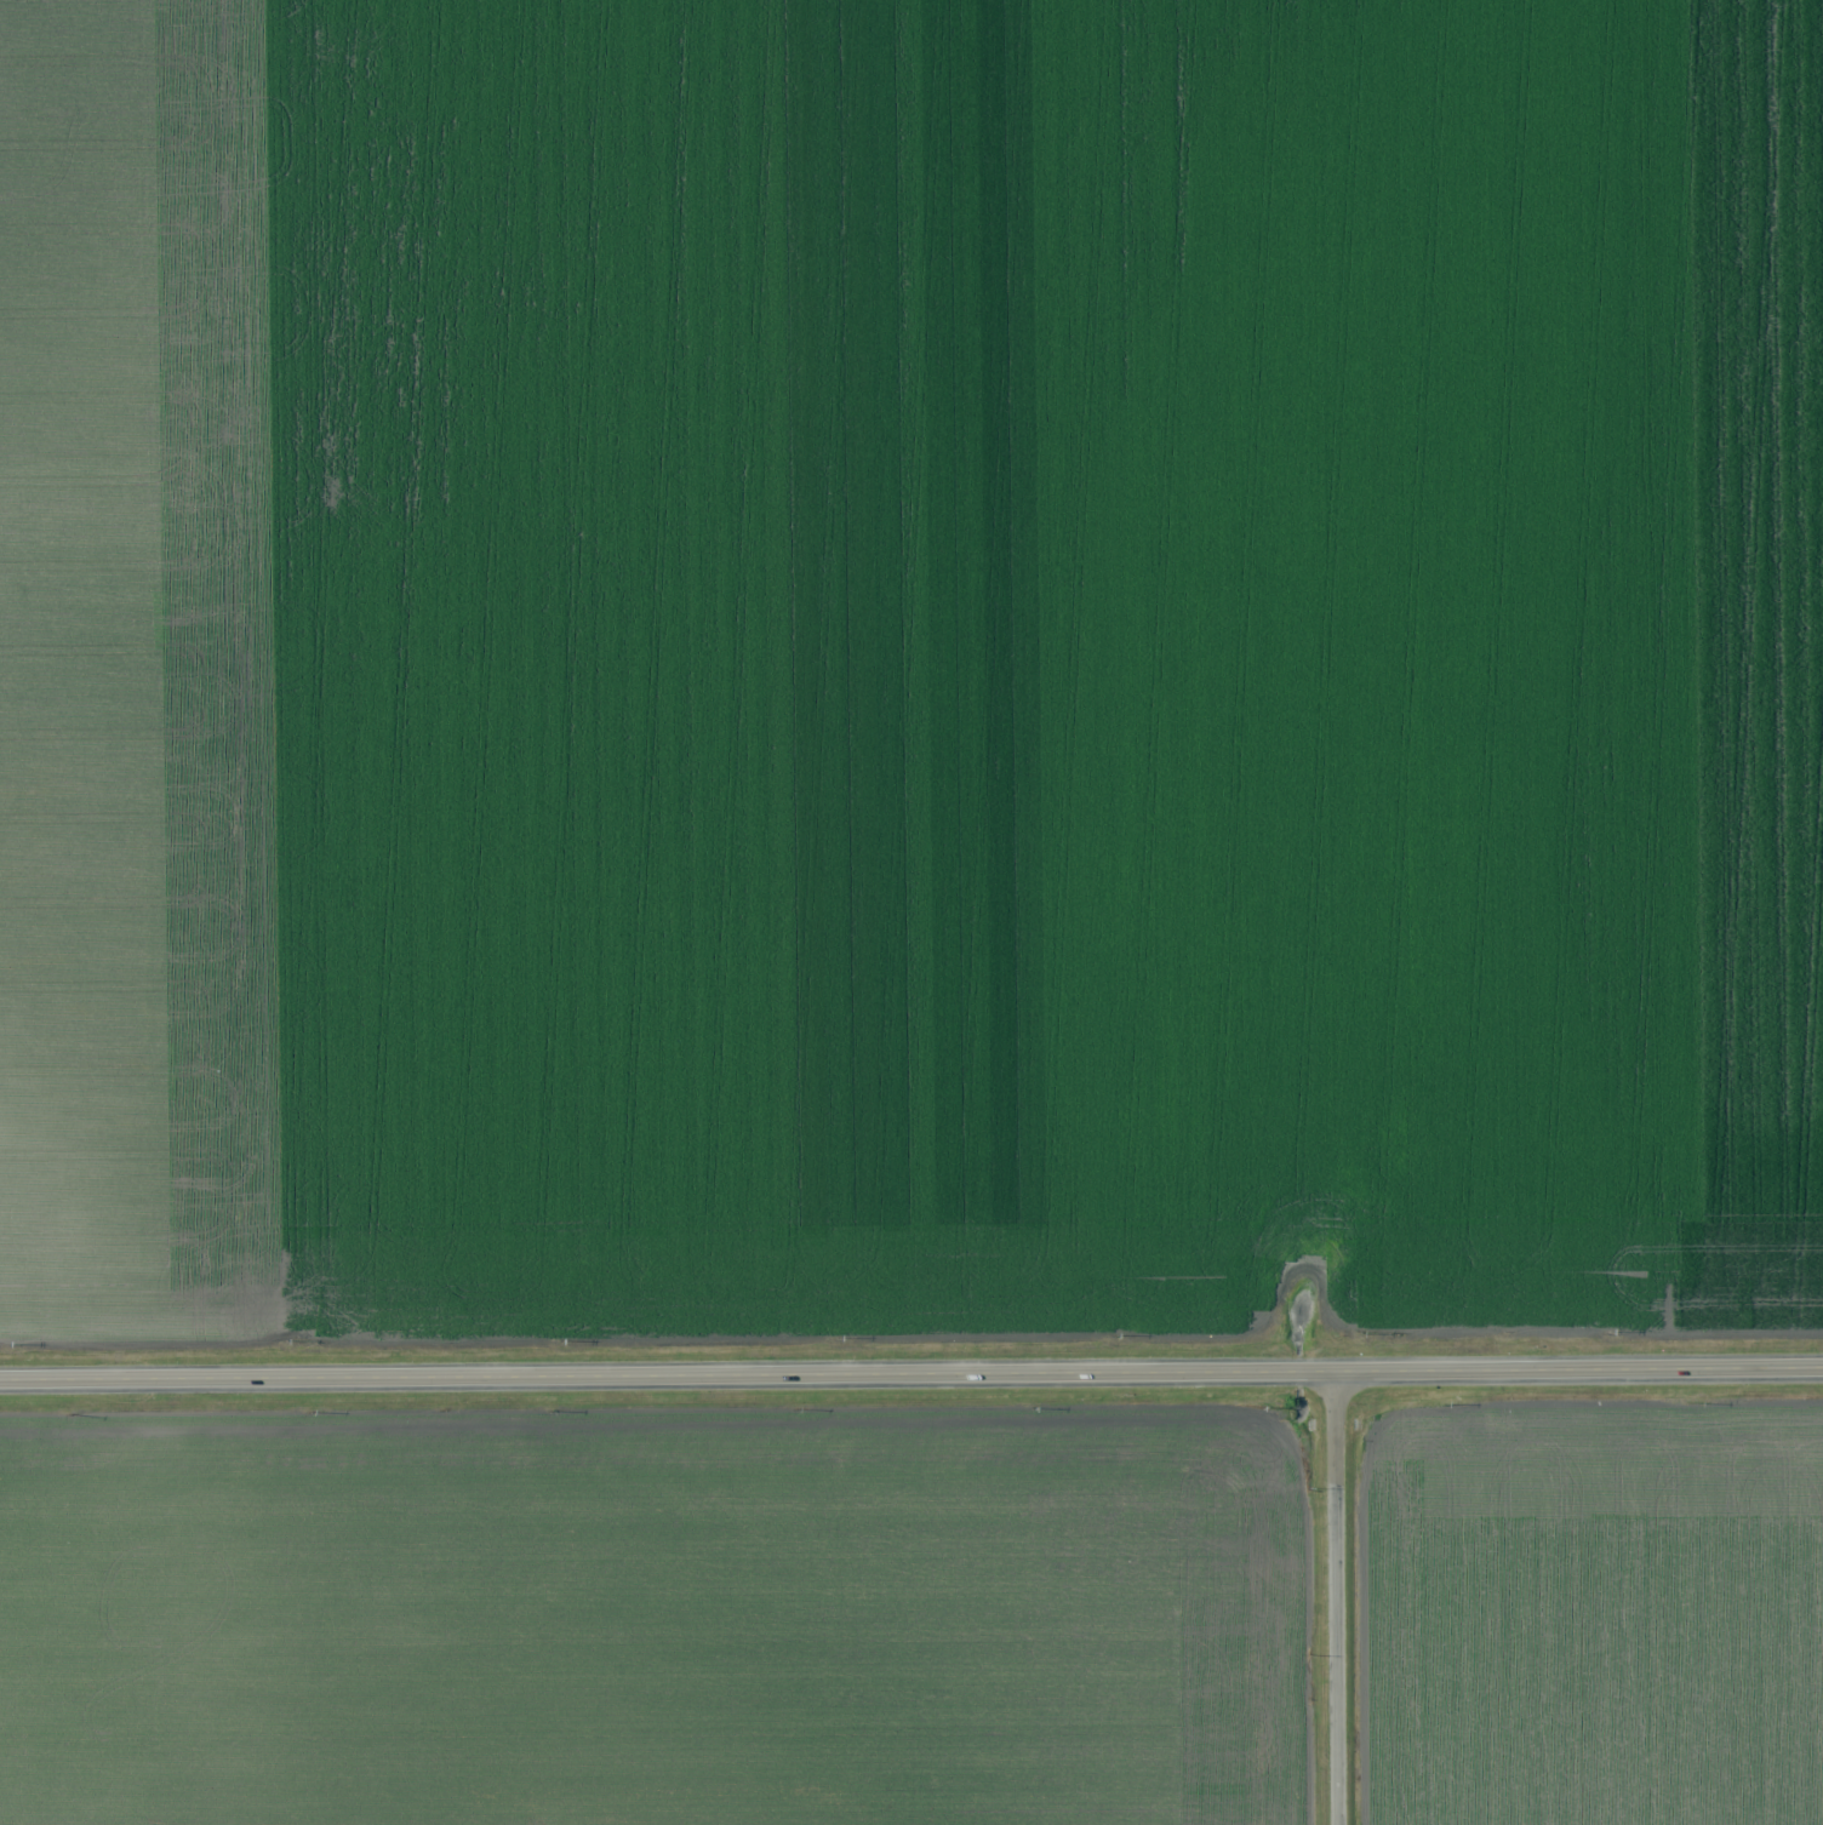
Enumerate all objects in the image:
road: (912, 1374)
road: (1333, 1598)

